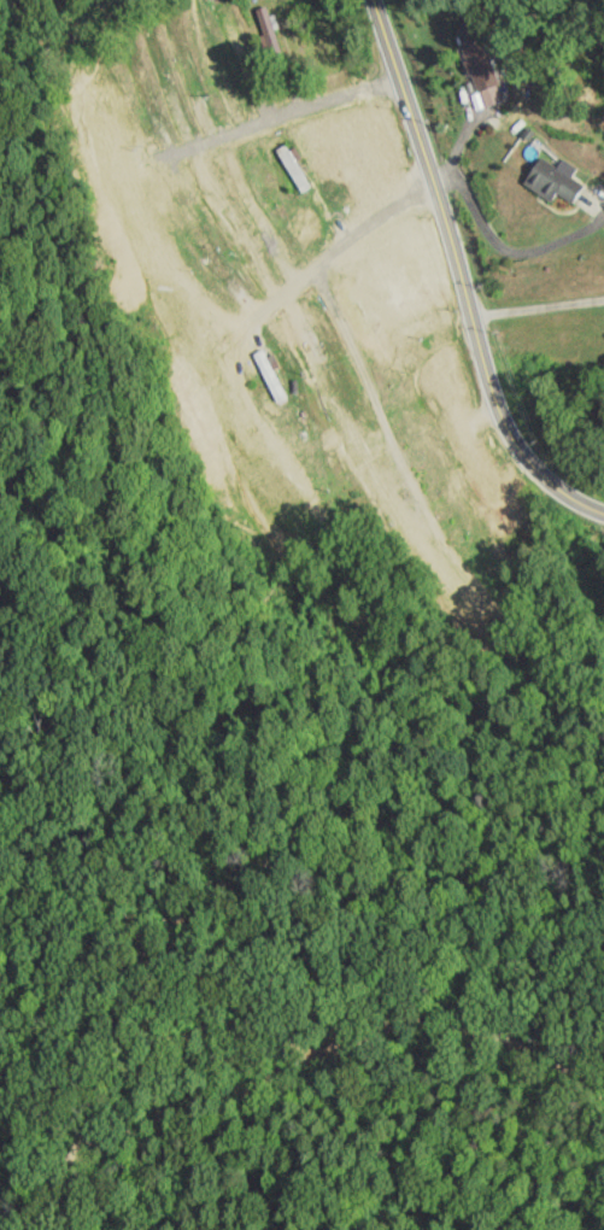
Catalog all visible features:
building: (269, 30)
building: (180, 55)
building: (241, 57)
building: (477, 65)
building: (143, 89)
building: (82, 123)
building: (294, 171)
building: (550, 181)
building: (240, 239)
building: (209, 252)
building: (404, 274)
road: (462, 276)
building: (169, 293)
building: (364, 306)
building: (269, 375)
building: (332, 396)
building: (468, 462)
building: (383, 485)
building: (438, 573)
road: (295, 1061)

